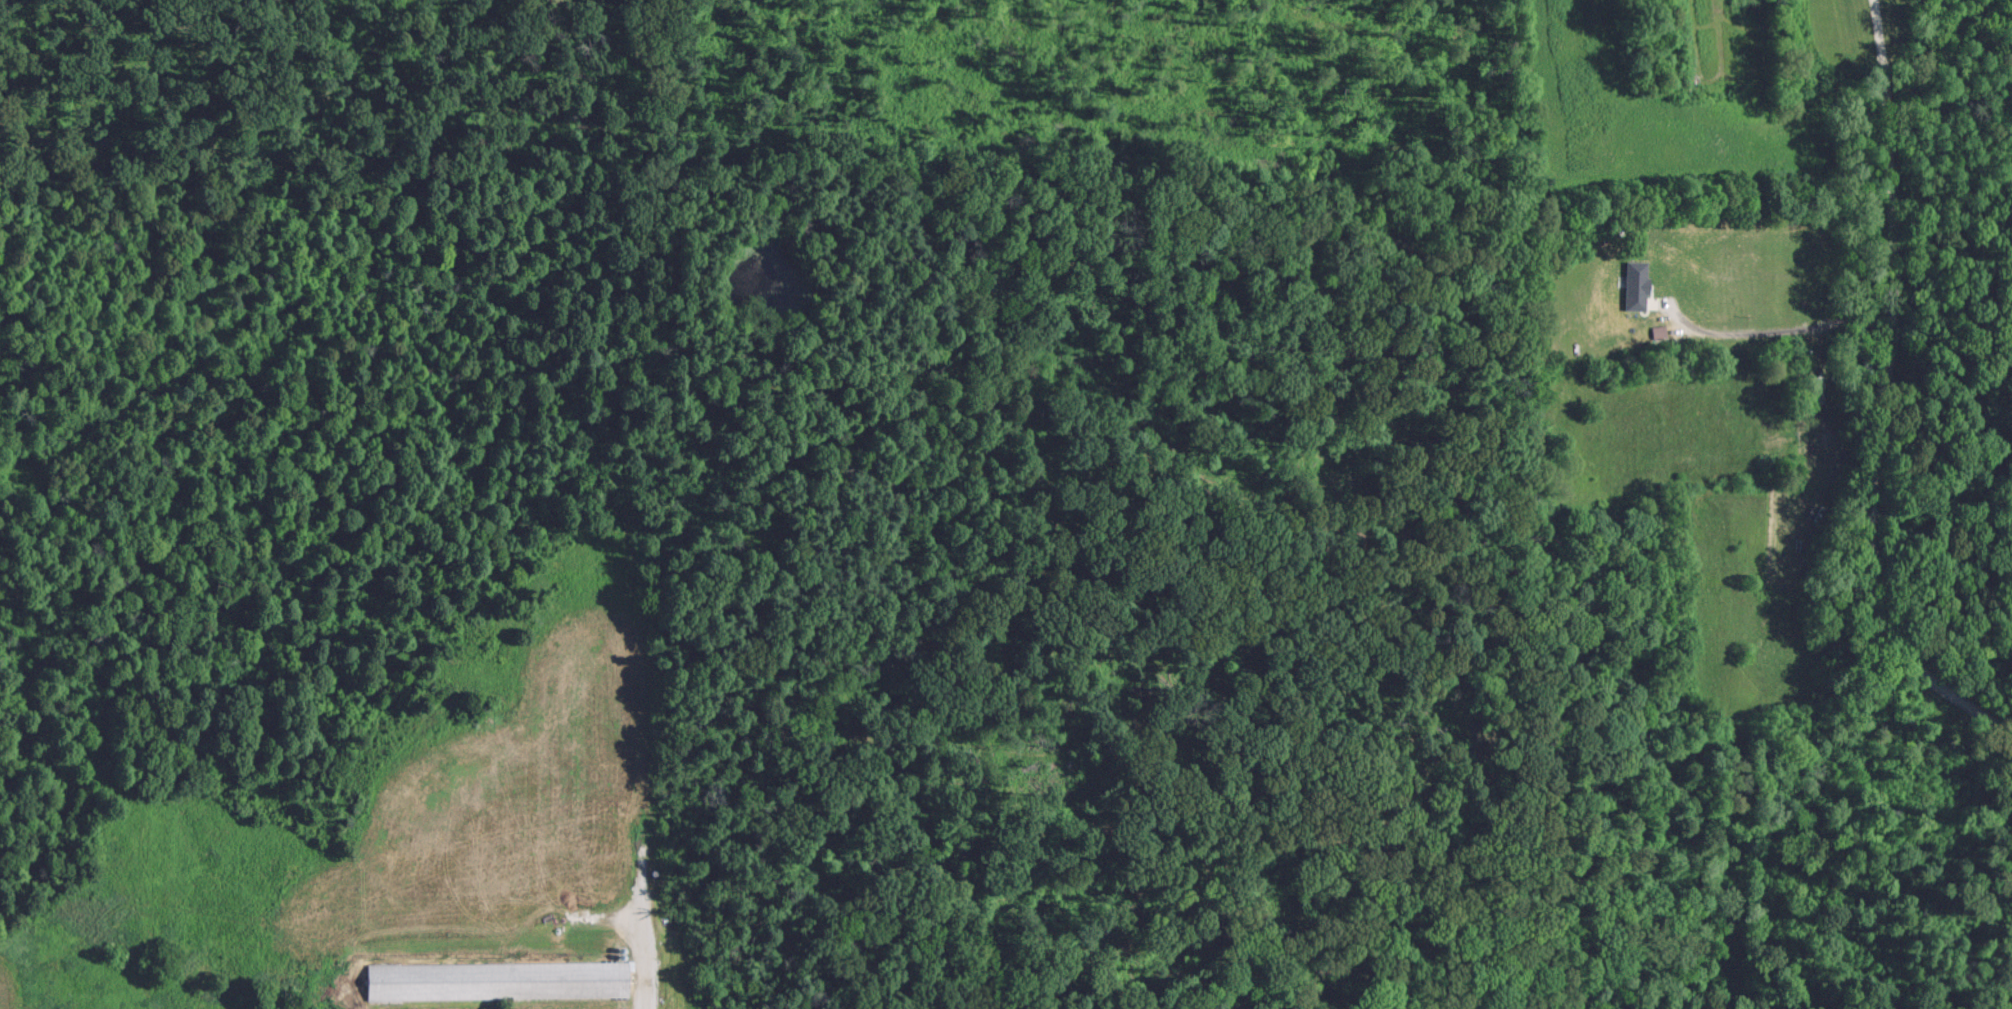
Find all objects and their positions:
building: (1694, 285)
building: (1812, 388)
road: (1886, 394)
building: (494, 980)

